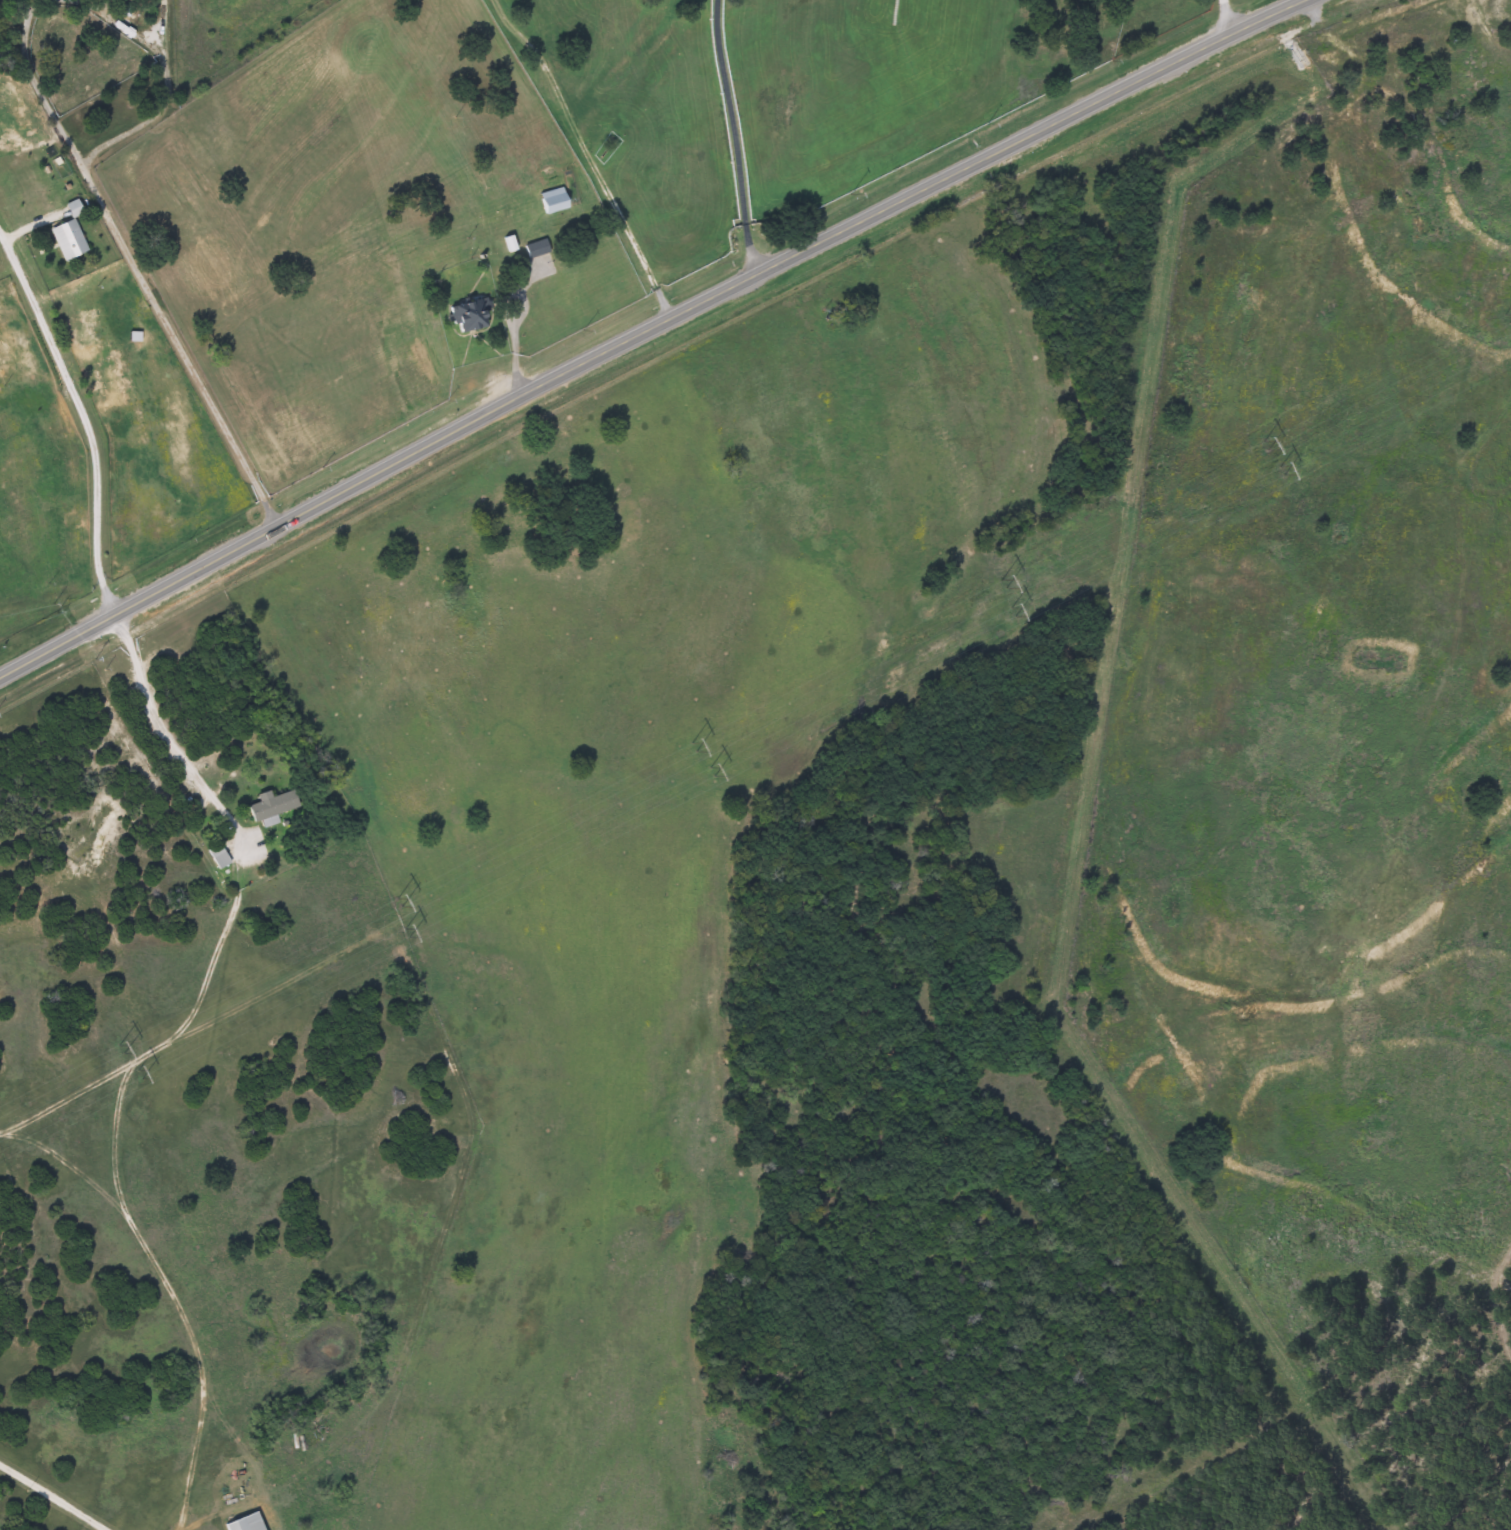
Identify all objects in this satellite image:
road: (157, 17)
road: (1223, 17)
road: (156, 44)
road: (120, 132)
road: (727, 136)
road: (589, 153)
building: (548, 201)
building: (73, 241)
building: (533, 249)
road: (133, 269)
building: (467, 314)
road: (645, 325)
road: (516, 344)
building: (280, 805)
building: (224, 857)
road: (237, 883)
road: (52, 1497)
road: (138, 1503)
building: (239, 1523)

